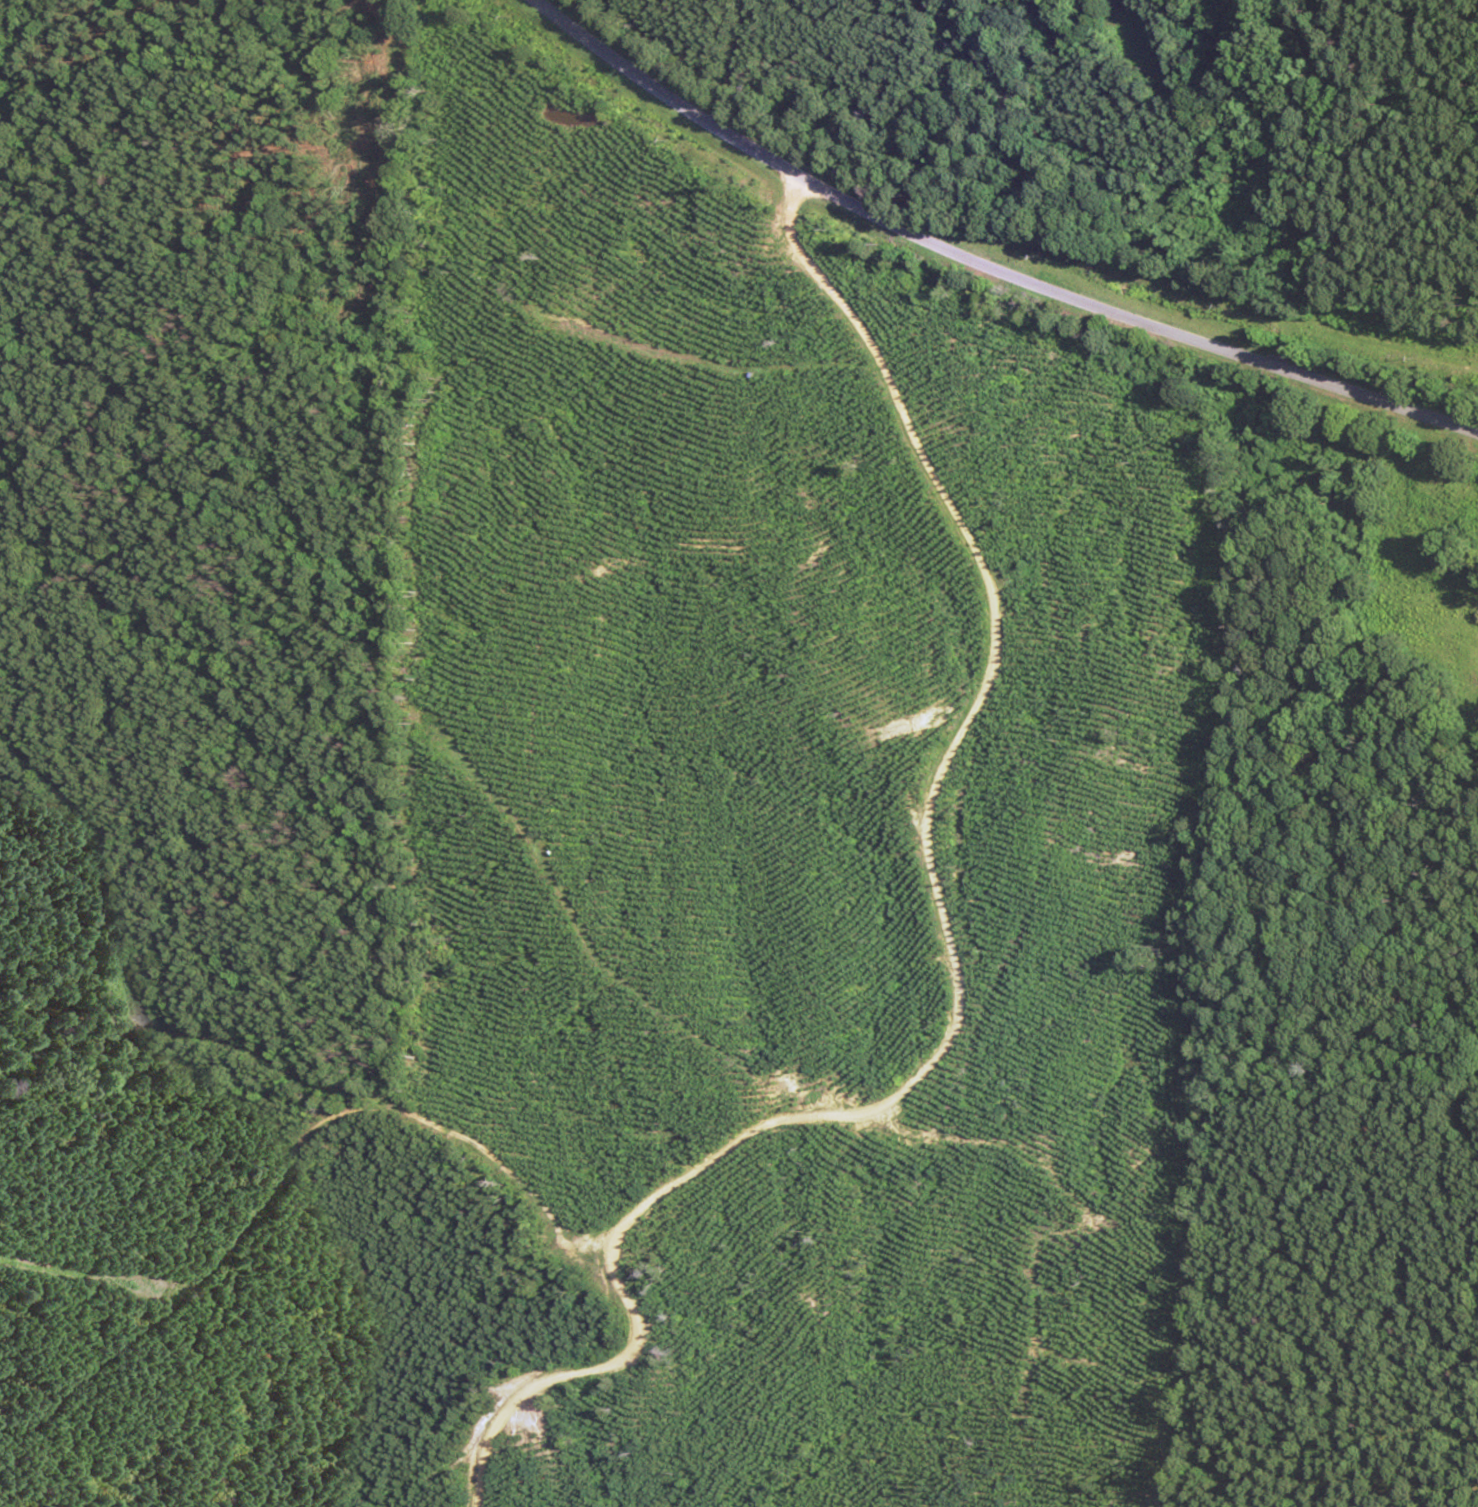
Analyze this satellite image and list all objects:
road: (1175, 165)
road: (982, 265)
road: (962, 953)
road: (305, 1110)

